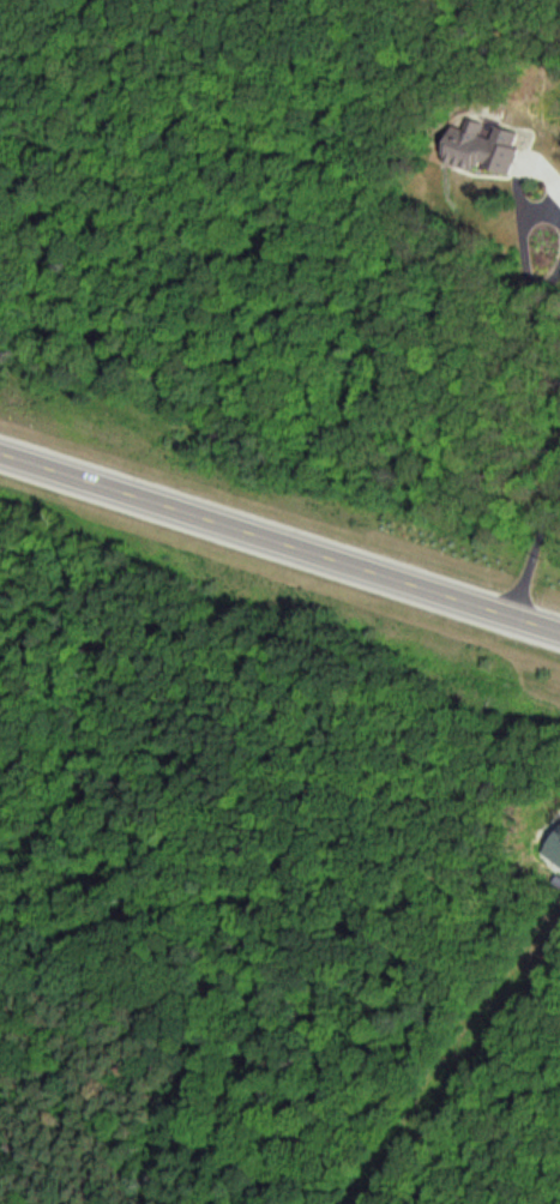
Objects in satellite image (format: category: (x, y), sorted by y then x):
building: (469, 149)
road: (279, 540)

